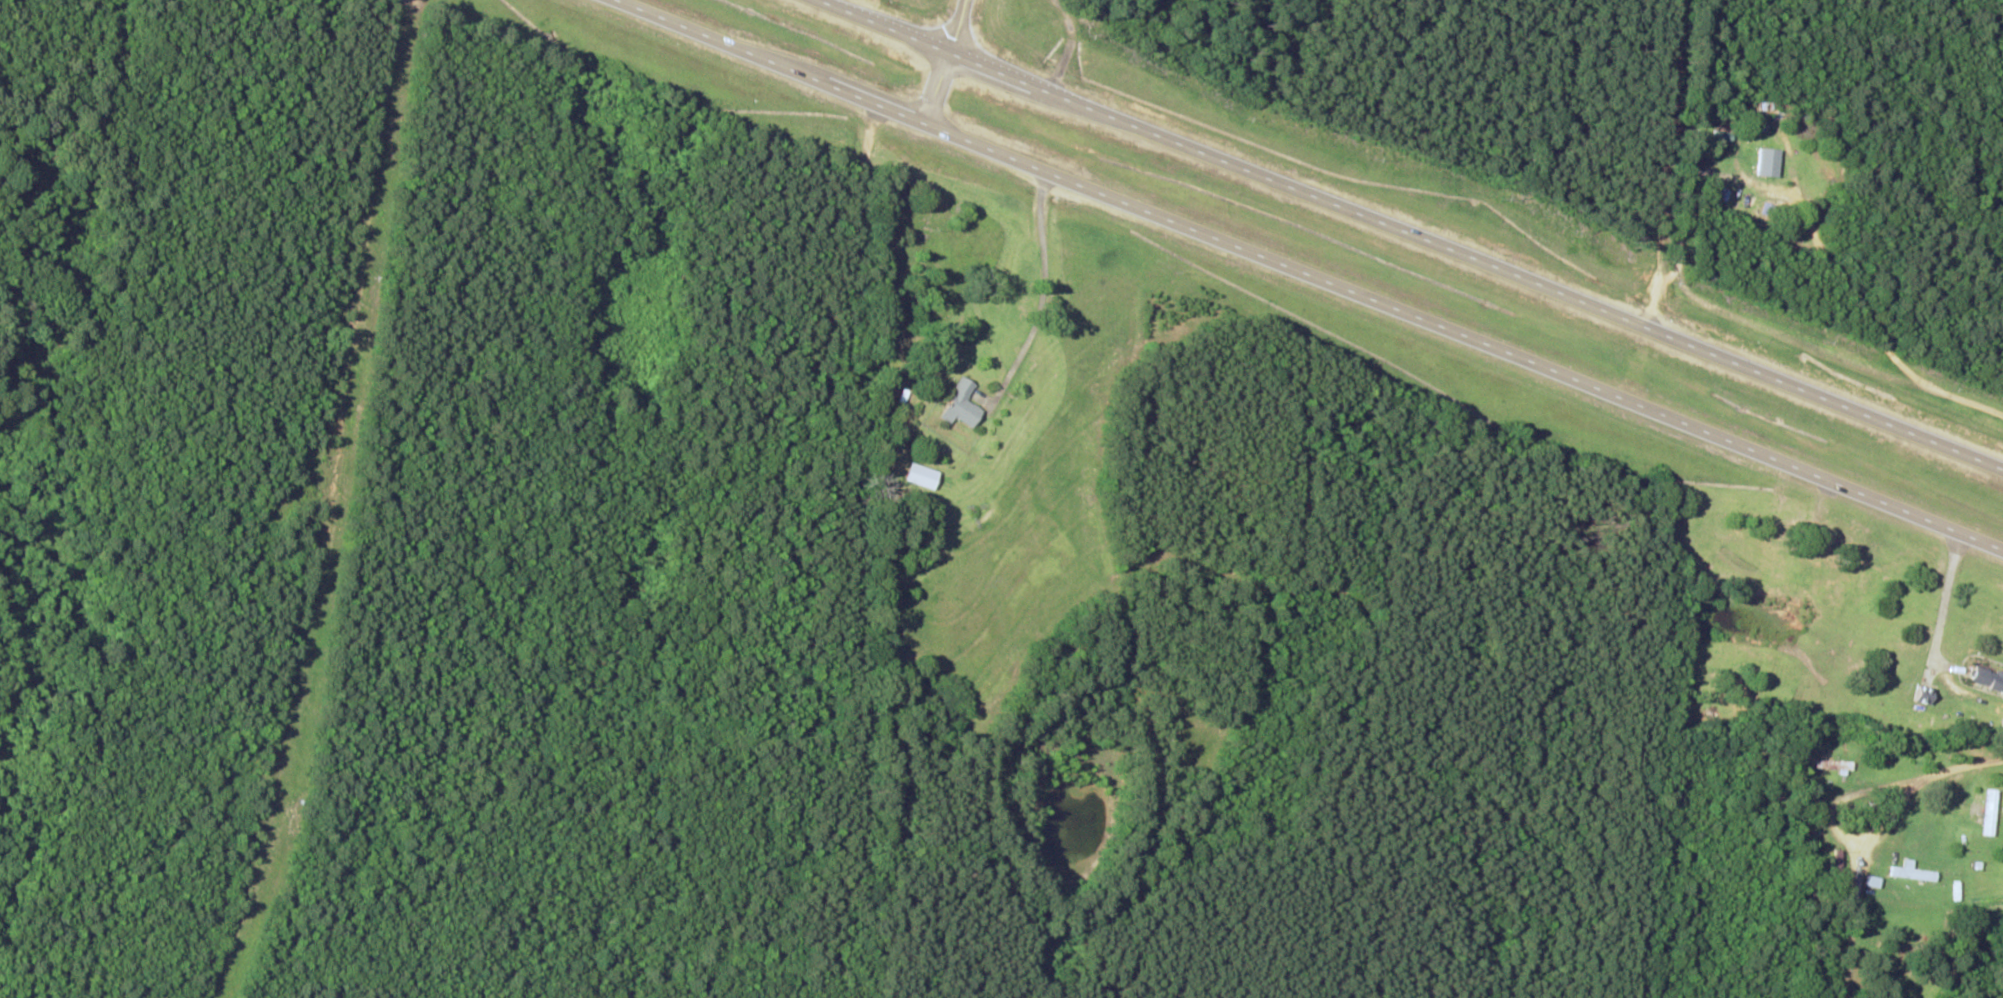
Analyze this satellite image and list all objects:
road: (1073, 49)
building: (1771, 161)
road: (1658, 164)
road: (1409, 236)
road: (1043, 262)
road: (1307, 275)
building: (964, 404)
building: (924, 476)
building: (1989, 677)
building: (1928, 695)
building: (1836, 765)
building: (1993, 812)
building: (1915, 872)
building: (1875, 881)

